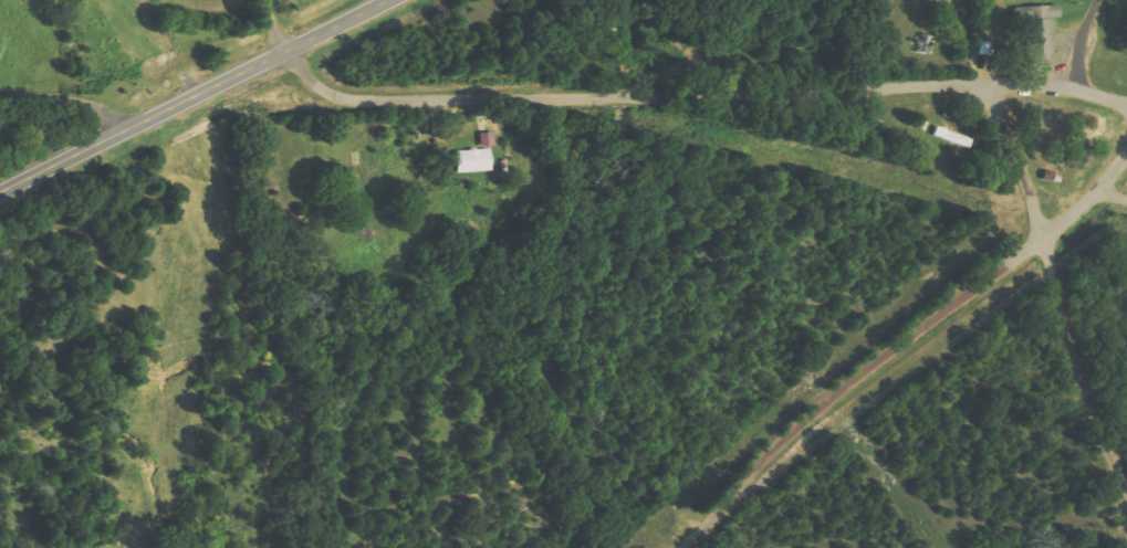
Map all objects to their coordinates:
building: (1035, 32)
road: (1083, 43)
road: (281, 45)
road: (1058, 86)
road: (67, 95)
road: (650, 95)
road: (197, 96)
building: (489, 140)
building: (476, 161)
road: (1020, 162)
road: (1113, 198)
road: (1094, 199)
road: (1076, 366)
road: (857, 384)

